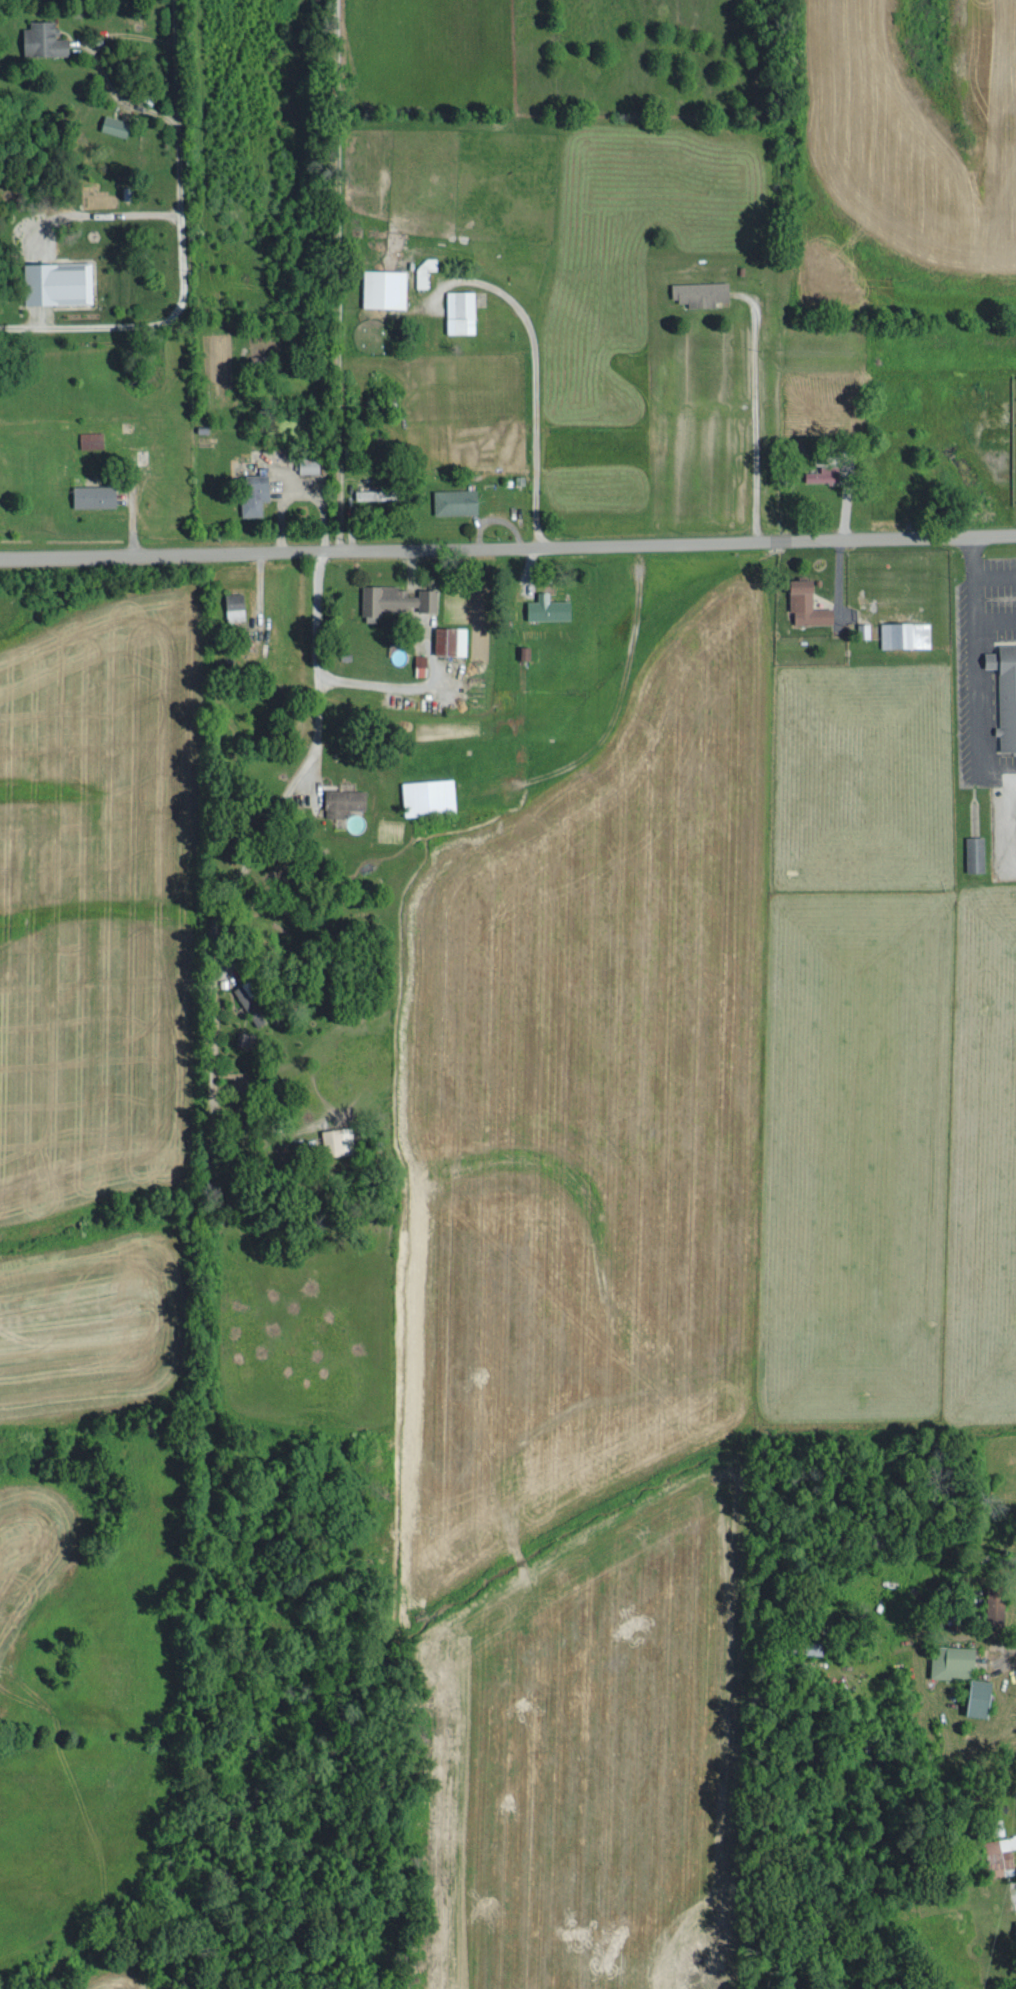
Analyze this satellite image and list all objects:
building: (44, 38)
building: (116, 124)
building: (424, 270)
road: (338, 273)
building: (58, 281)
building: (384, 287)
building: (701, 291)
building: (461, 310)
building: (92, 438)
building: (309, 464)
building: (825, 473)
building: (254, 492)
building: (377, 493)
building: (95, 494)
building: (456, 500)
road: (507, 546)
building: (395, 599)
building: (808, 602)
building: (235, 605)
building: (547, 606)
building: (905, 634)
building: (451, 639)
building: (1005, 692)
building: (431, 795)
building: (344, 800)
building: (975, 852)
building: (252, 1001)
building: (339, 1138)
building: (953, 1660)
building: (981, 1696)
building: (1001, 1856)

